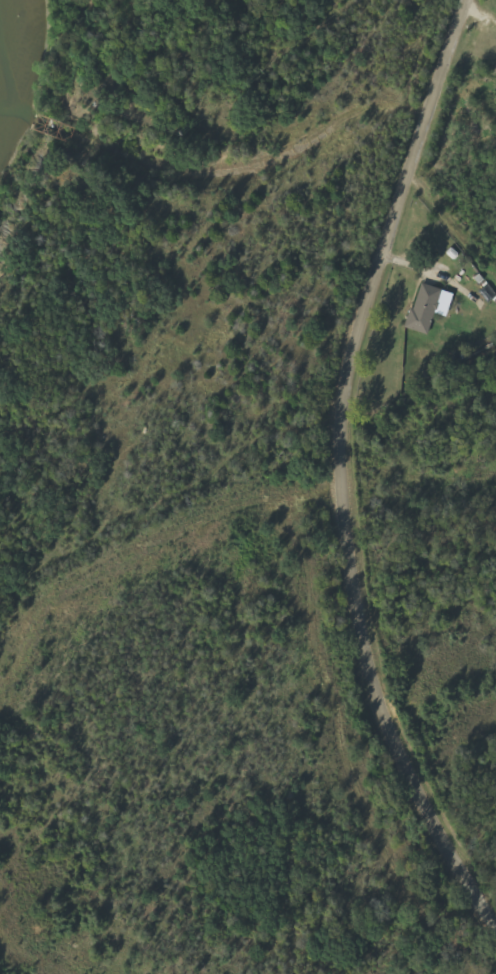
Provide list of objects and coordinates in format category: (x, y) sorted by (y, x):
building: (425, 309)
road: (341, 470)
road: (350, 911)

